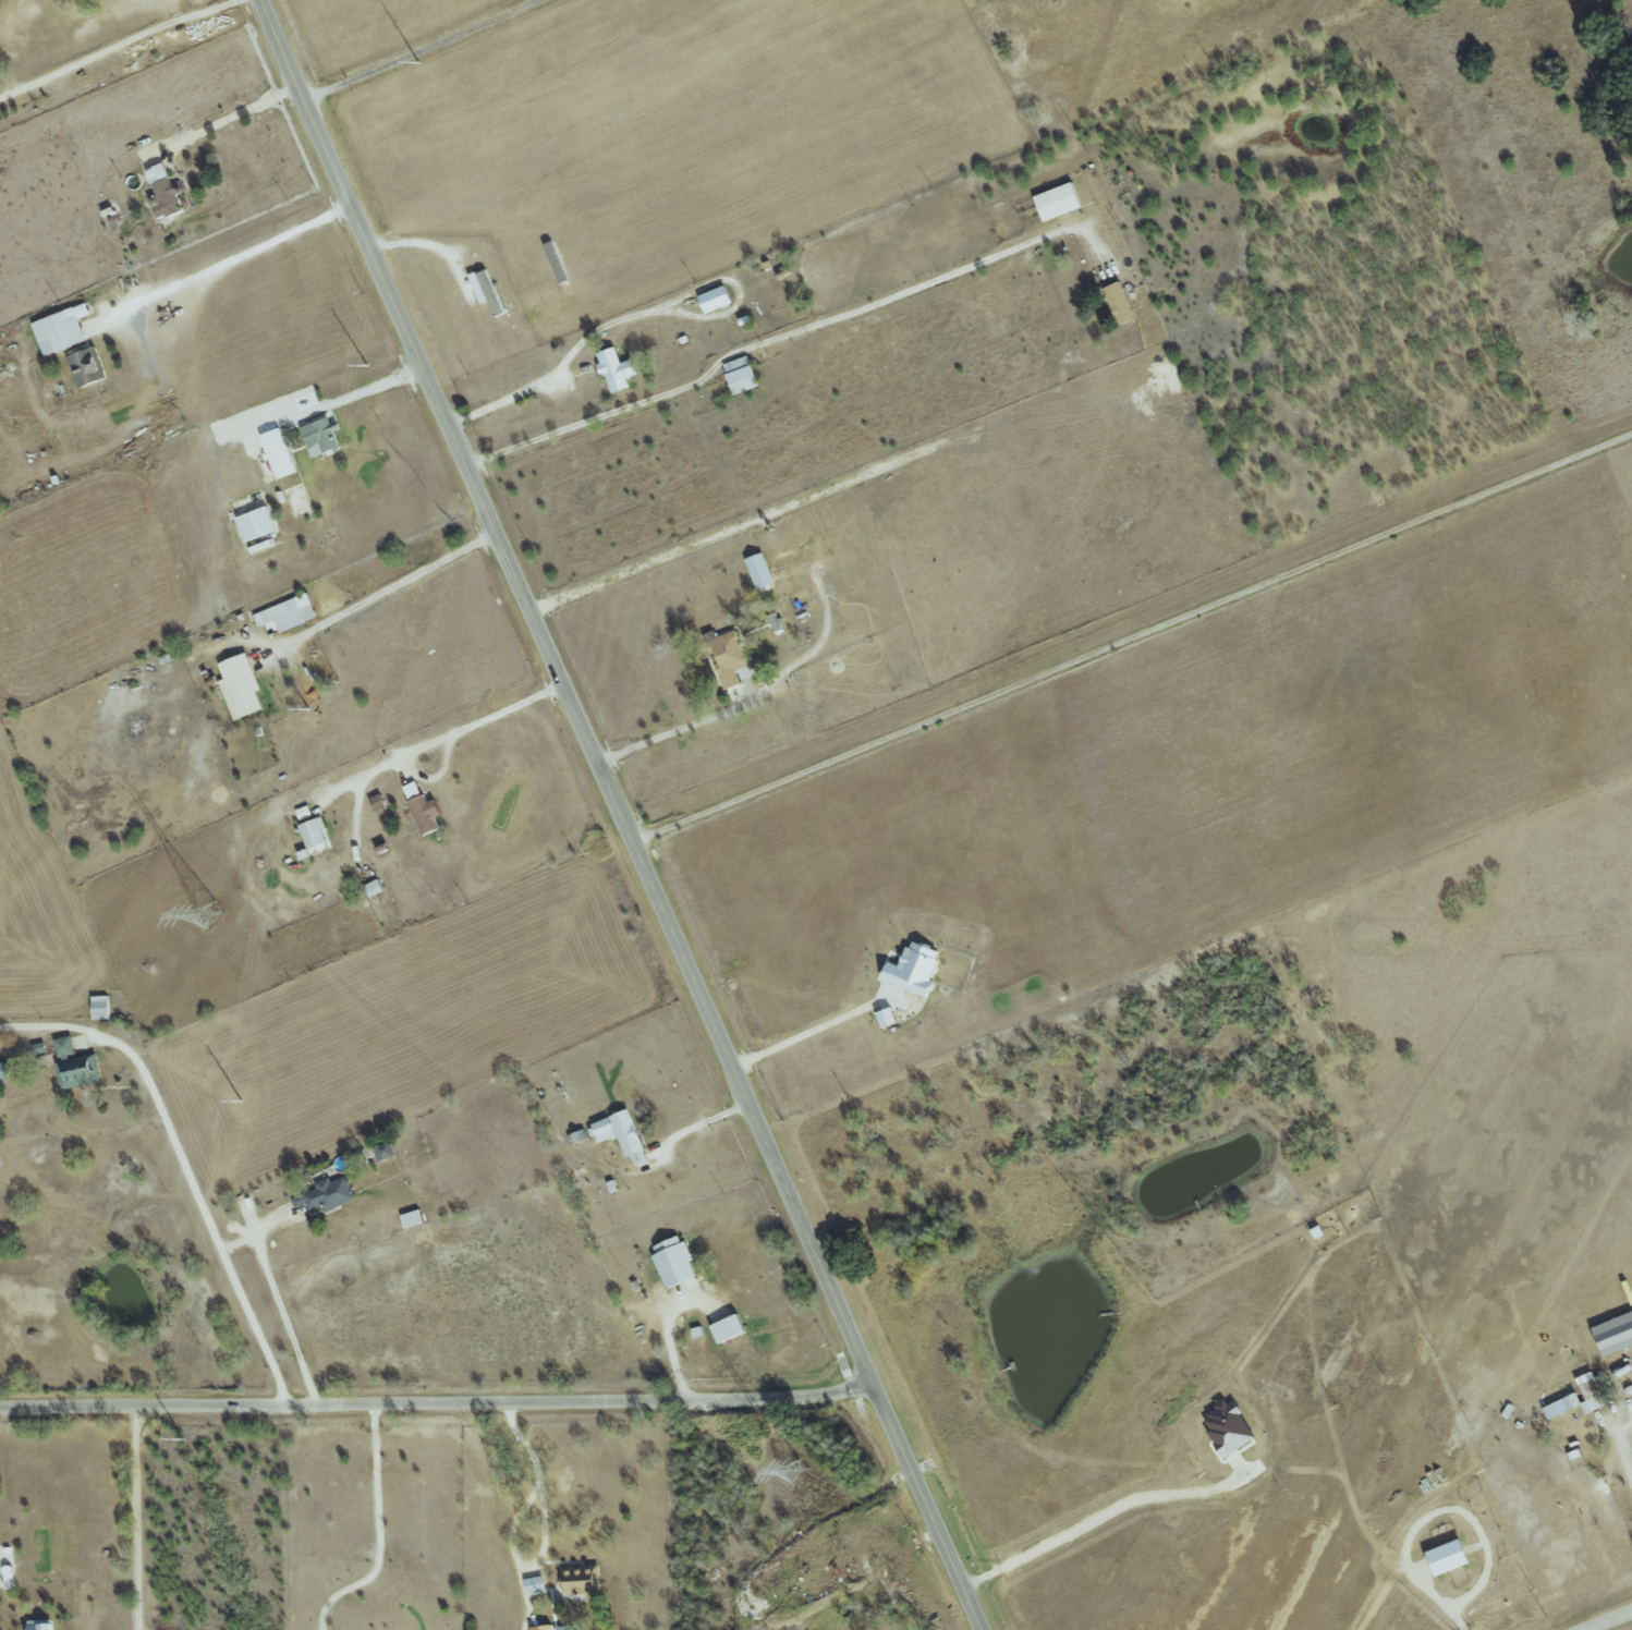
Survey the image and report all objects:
road: (422, 49)
road: (121, 51)
power tower: (417, 62)
road: (229, 123)
building: (166, 193)
building: (1059, 202)
road: (229, 265)
building: (487, 290)
building: (717, 300)
building: (1120, 303)
road: (629, 315)
building: (62, 330)
road: (764, 346)
power tower: (365, 366)
building: (617, 370)
building: (742, 375)
road: (355, 396)
building: (280, 453)
building: (258, 524)
building: (796, 548)
building: (760, 572)
road: (381, 595)
building: (289, 615)
road: (1132, 635)
building: (730, 658)
building: (242, 686)
road: (753, 706)
power tower: (306, 709)
road: (447, 741)
building: (413, 790)
building: (378, 803)
road: (622, 814)
building: (424, 815)
building: (315, 834)
building: (375, 888)
power tower: (211, 917)
building: (915, 970)
building: (101, 1008)
building: (889, 1018)
road: (806, 1041)
building: (76, 1066)
building: (3, 1071)
power tower: (240, 1104)
road: (699, 1123)
building: (623, 1135)
road: (182, 1166)
building: (414, 1219)
building: (674, 1262)
road: (281, 1310)
building: (730, 1329)
road: (669, 1337)
building: (1583, 1396)
road: (438, 1403)
building: (1230, 1428)
power tower: (181, 1442)
road: (1621, 1453)
power tower: (794, 1472)
road: (1097, 1516)
road: (137, 1518)
road: (376, 1530)
road: (544, 1530)
road: (862, 1557)
building: (1450, 1557)
building: (581, 1581)
building: (537, 1585)
road: (1610, 1621)
building: (42, 1625)
building: (545, 1628)

